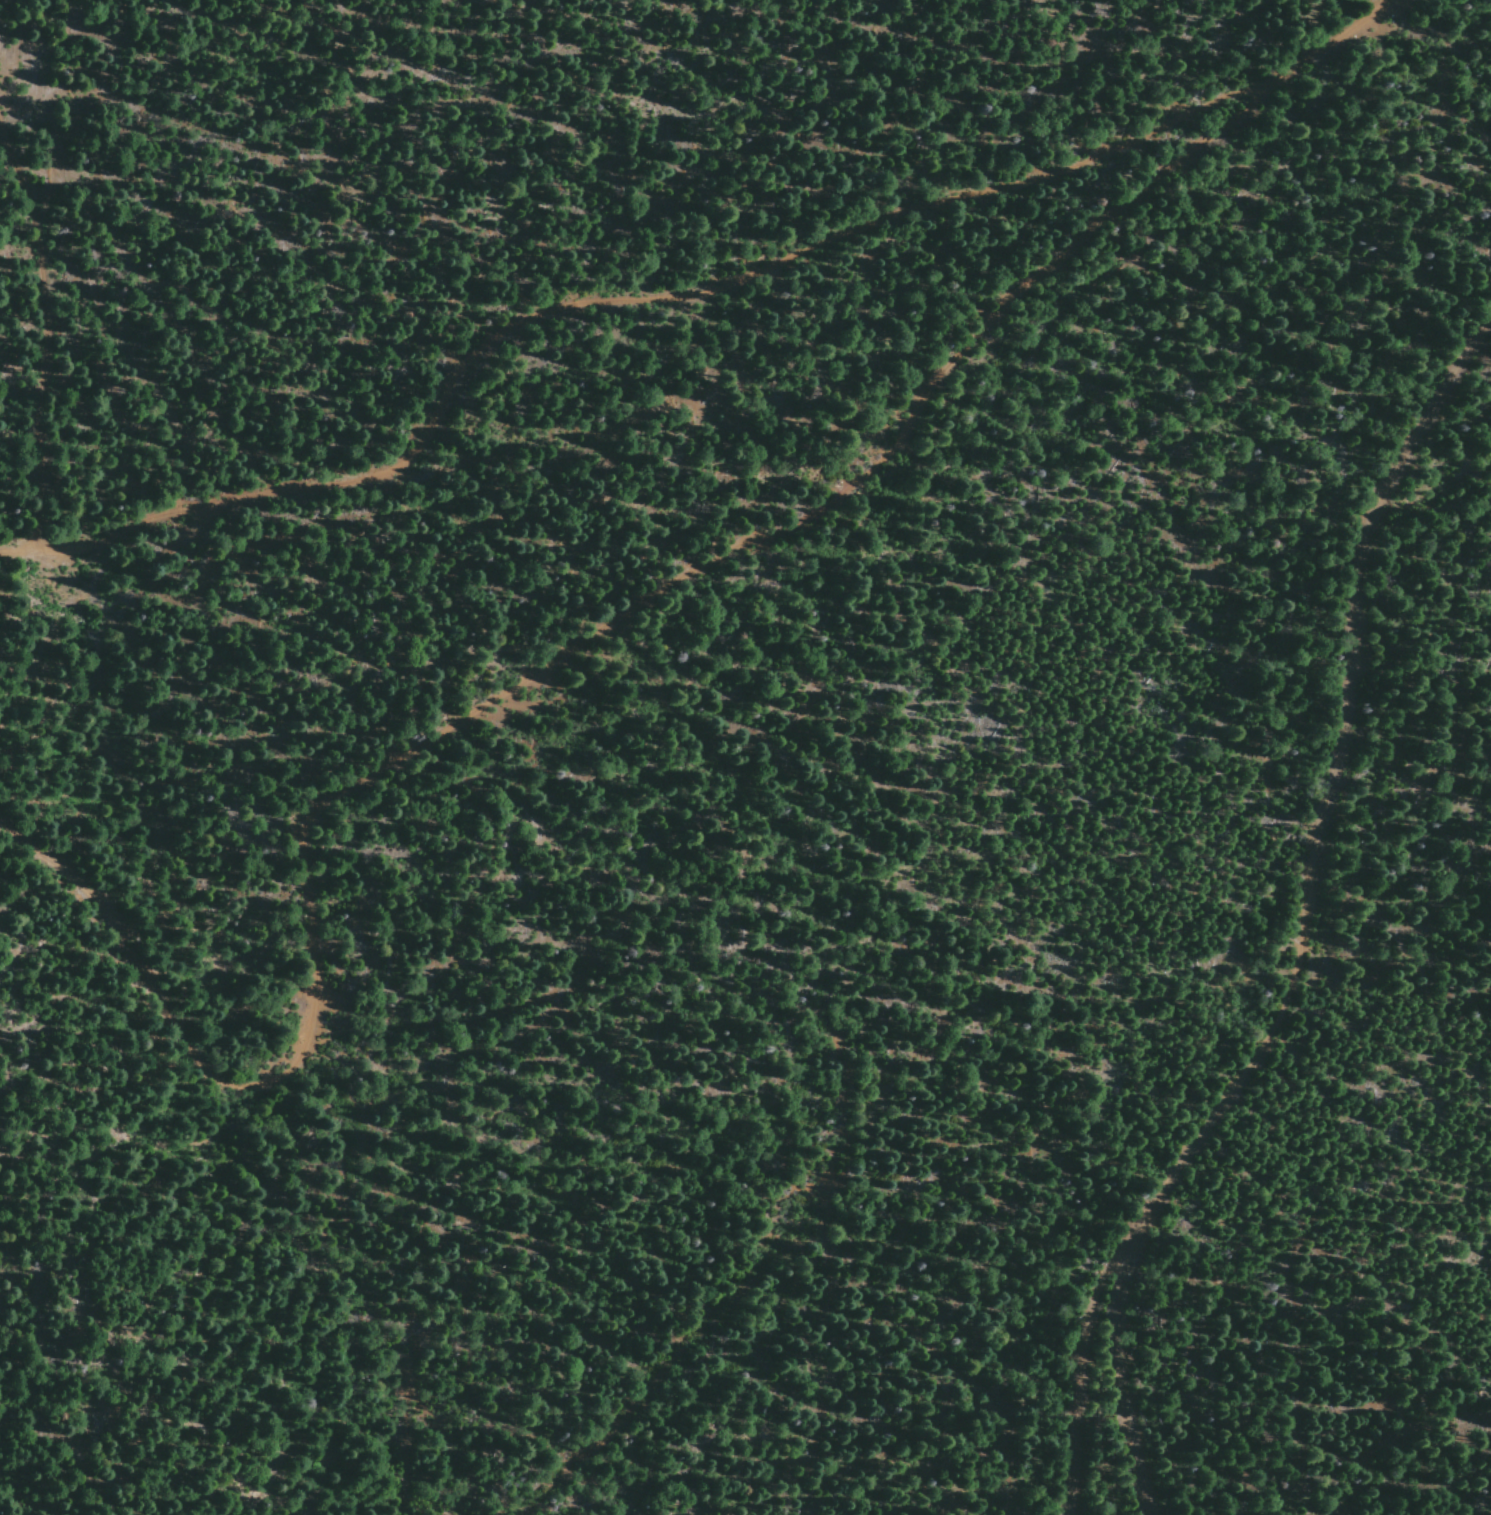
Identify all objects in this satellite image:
road: (643, 301)
road: (600, 633)
road: (1299, 922)
road: (1078, 1378)

